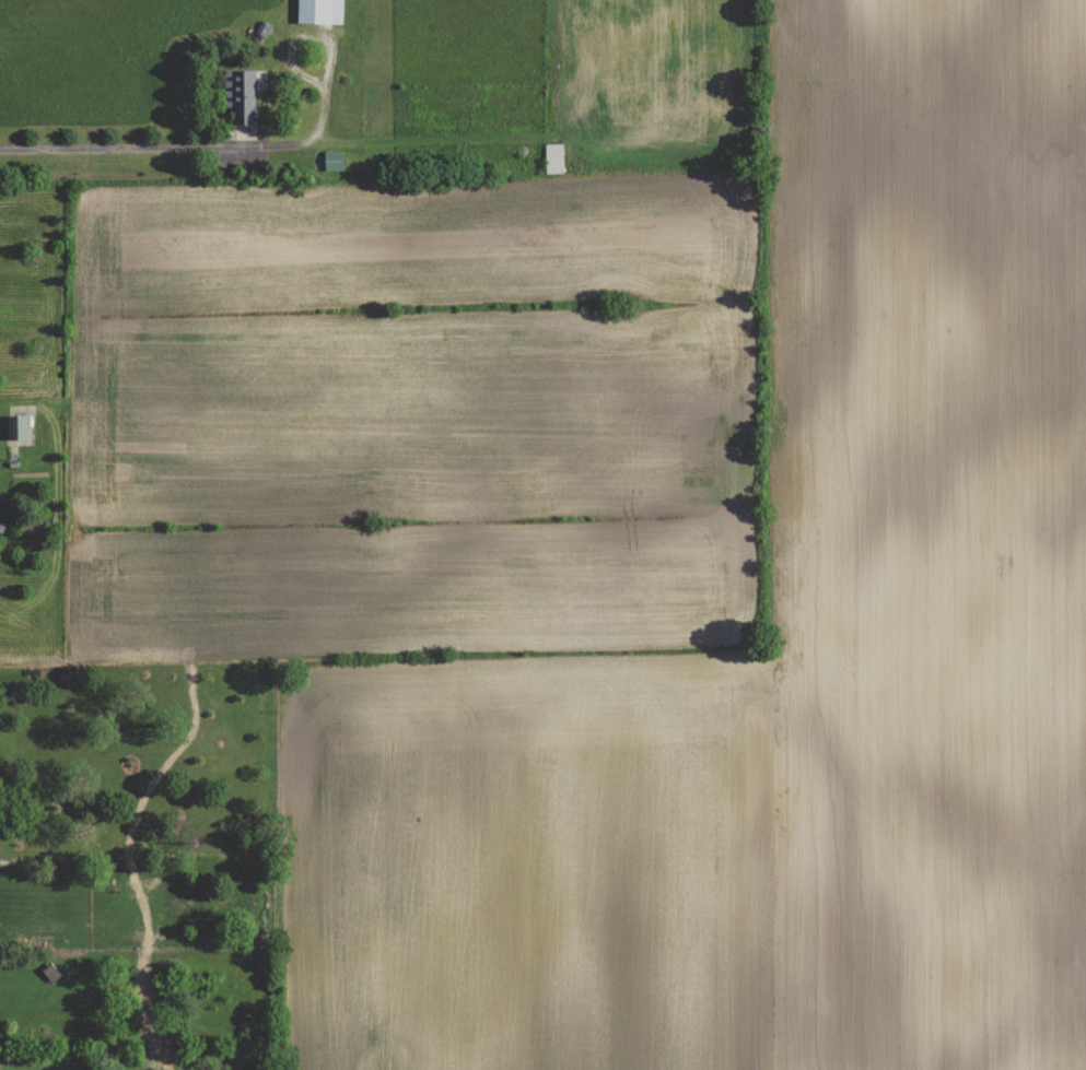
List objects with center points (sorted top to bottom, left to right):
building: (320, 11)
building: (244, 93)
road: (113, 149)
building: (553, 158)
building: (334, 160)
building: (19, 427)

